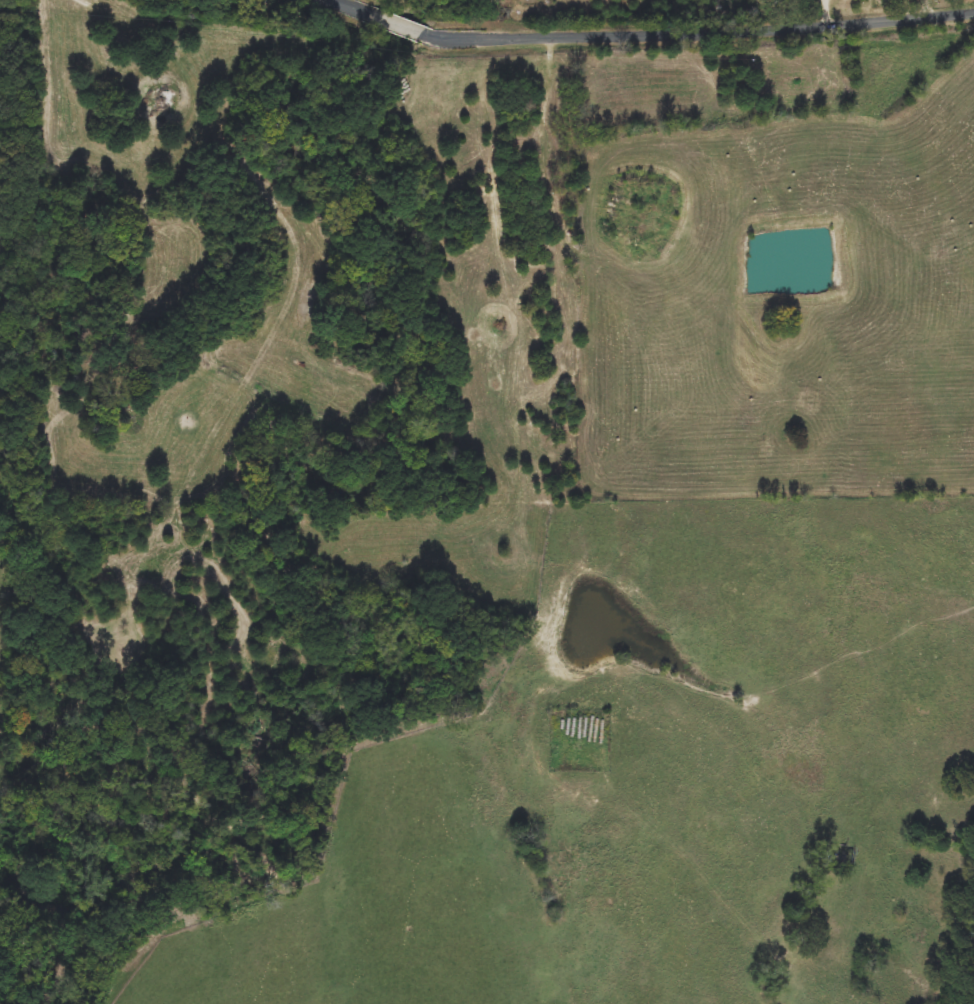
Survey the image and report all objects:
road: (926, 7)
road: (661, 32)
building: (531, 127)

